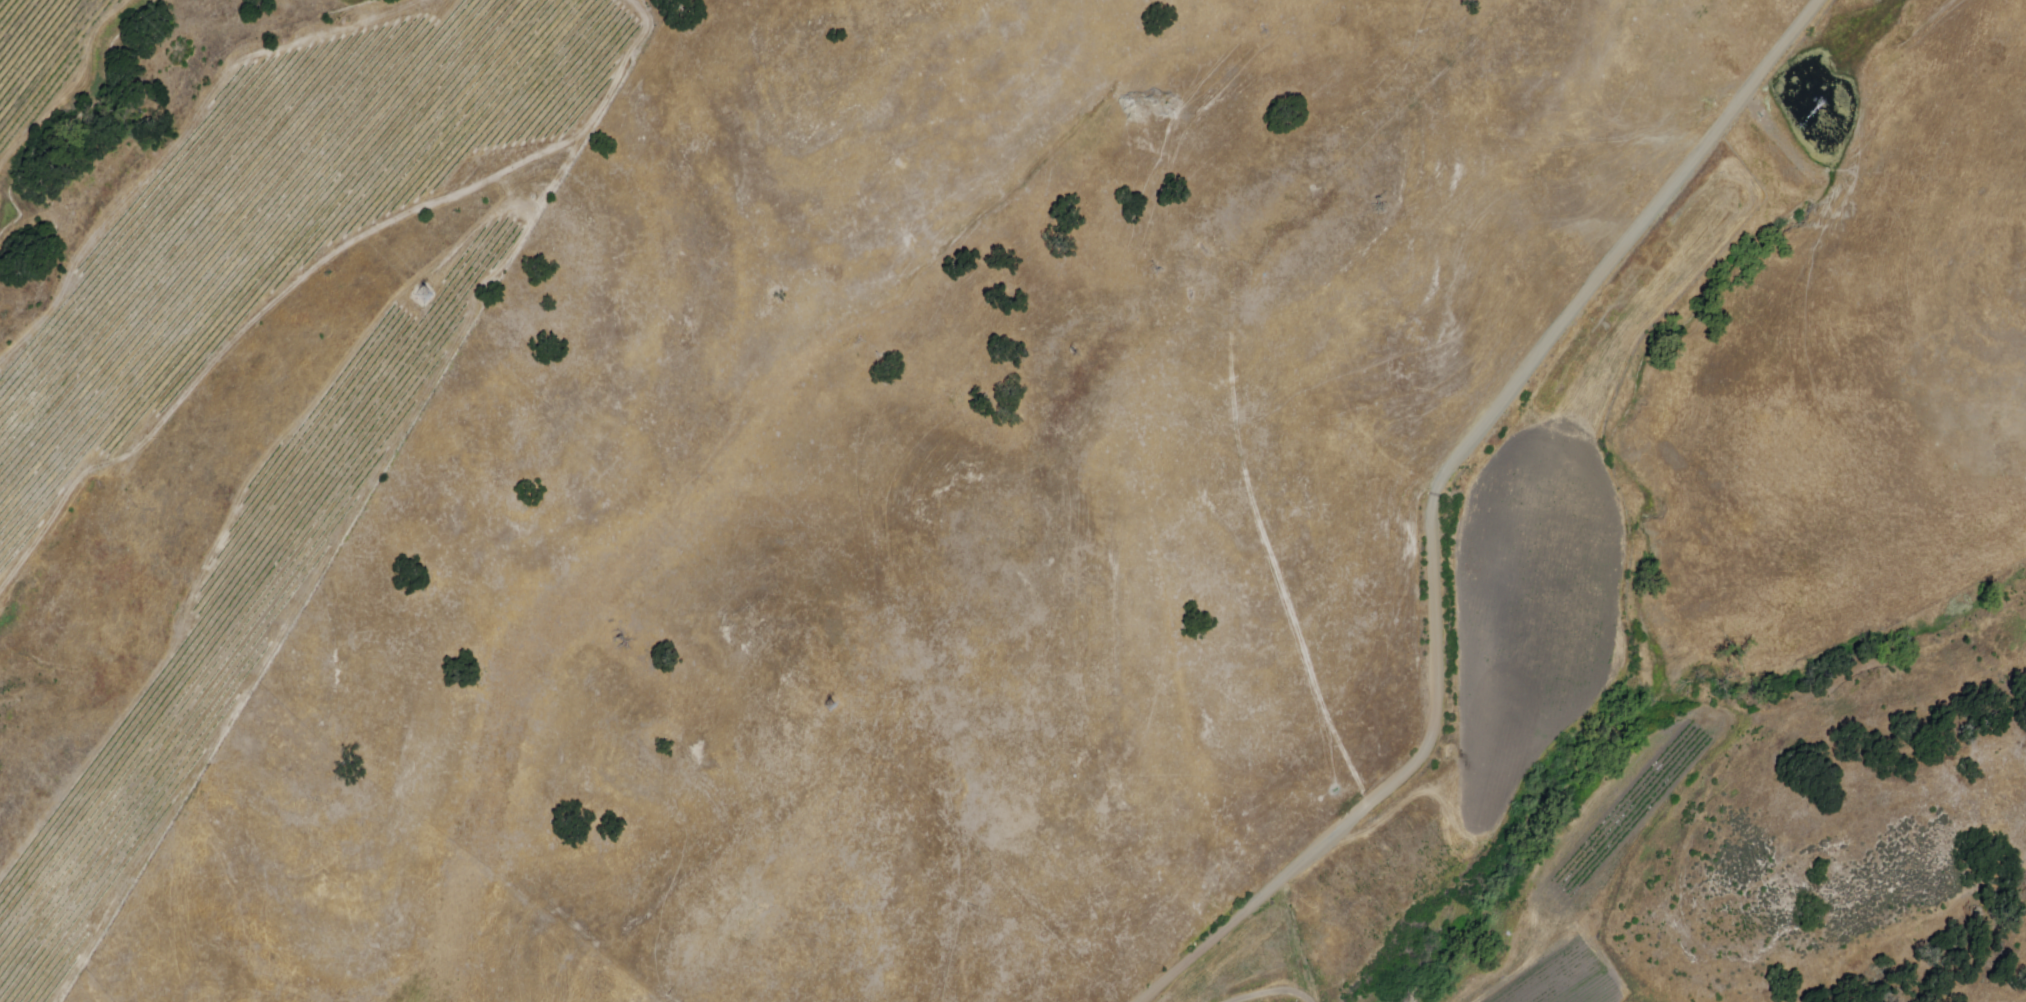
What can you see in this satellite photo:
power tower: (427, 295)
road: (1430, 500)
crop: (1518, 612)
power tower: (840, 711)
crop: (1587, 881)

